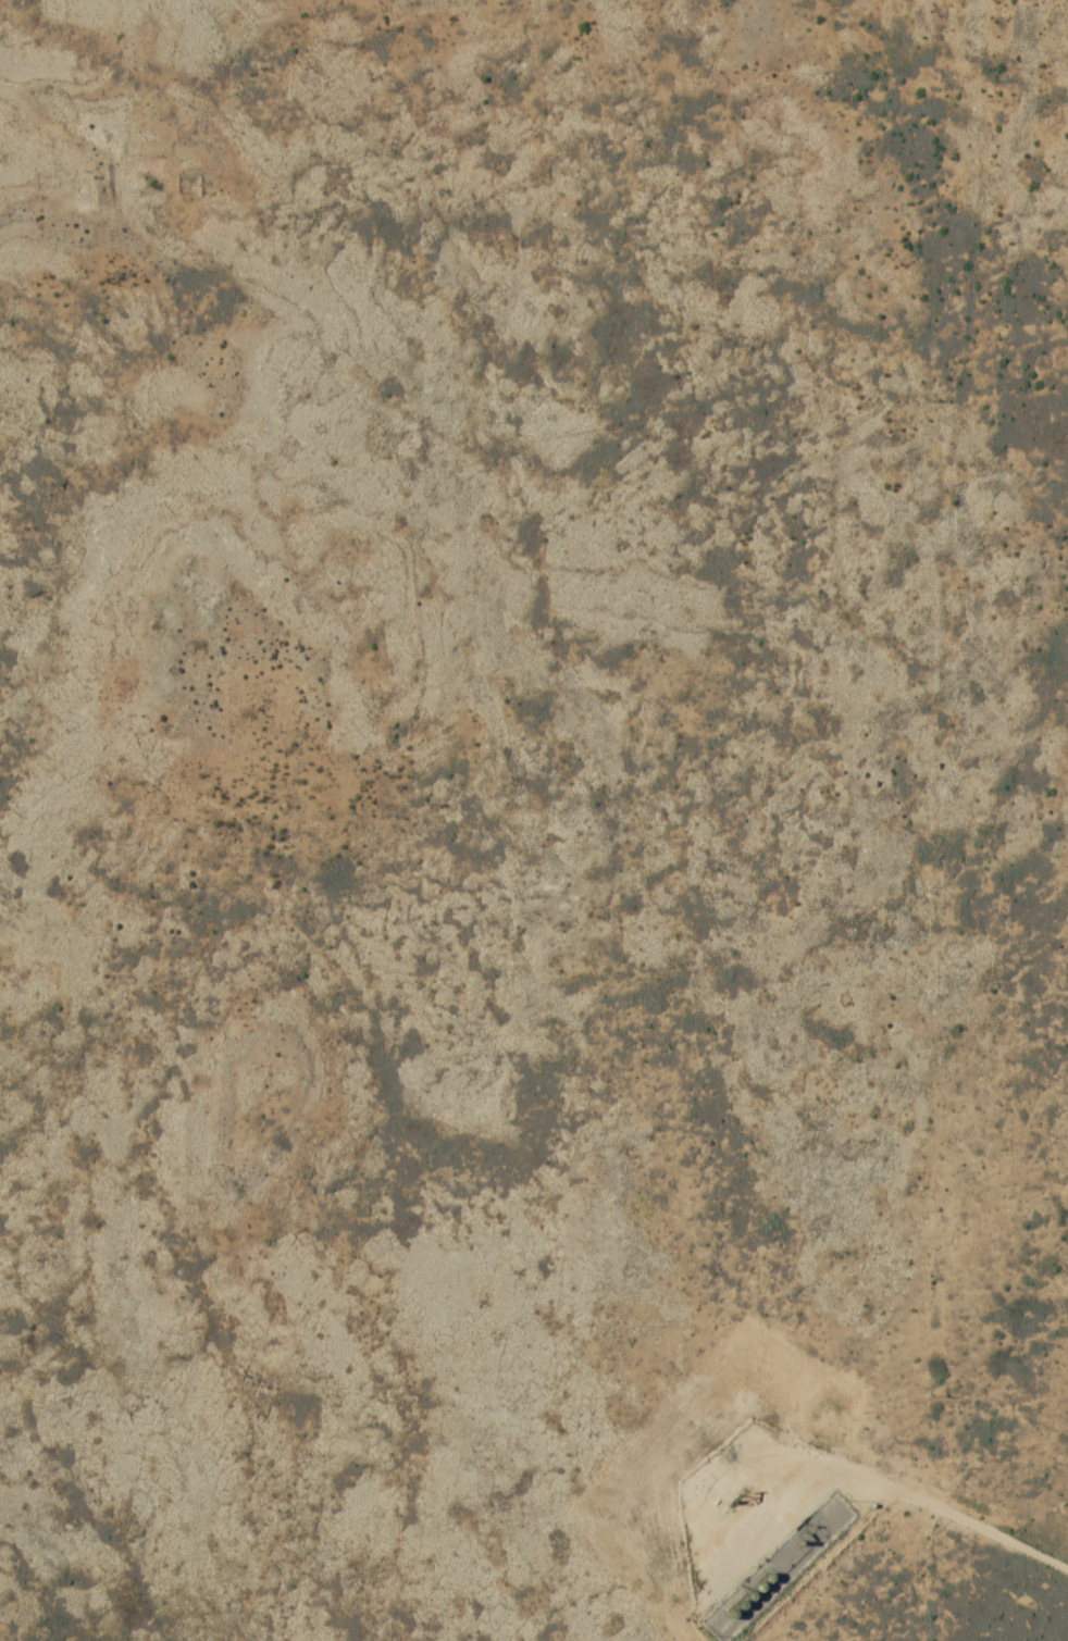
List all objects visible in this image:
road: (923, 1511)

